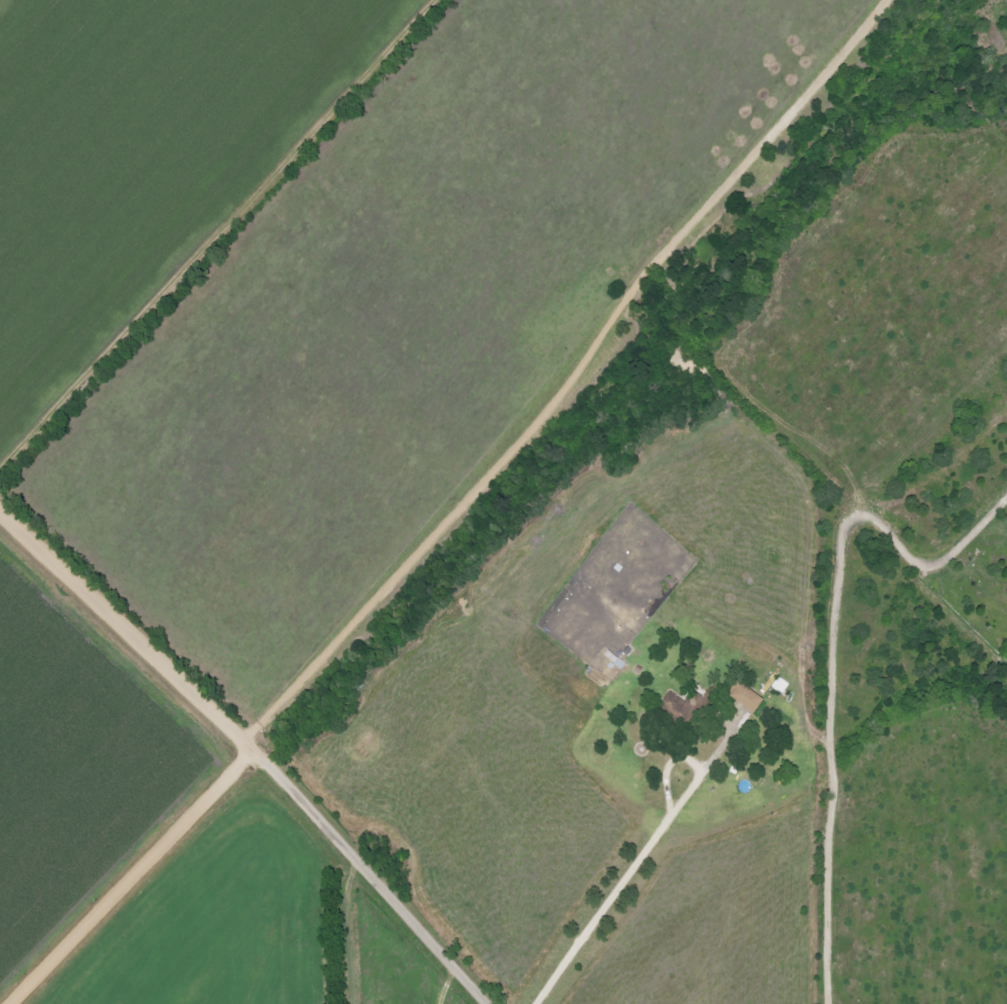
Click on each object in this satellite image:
road: (570, 376)
road: (127, 628)
building: (750, 697)
building: (679, 707)
road: (373, 874)
road: (625, 875)
road: (132, 876)

